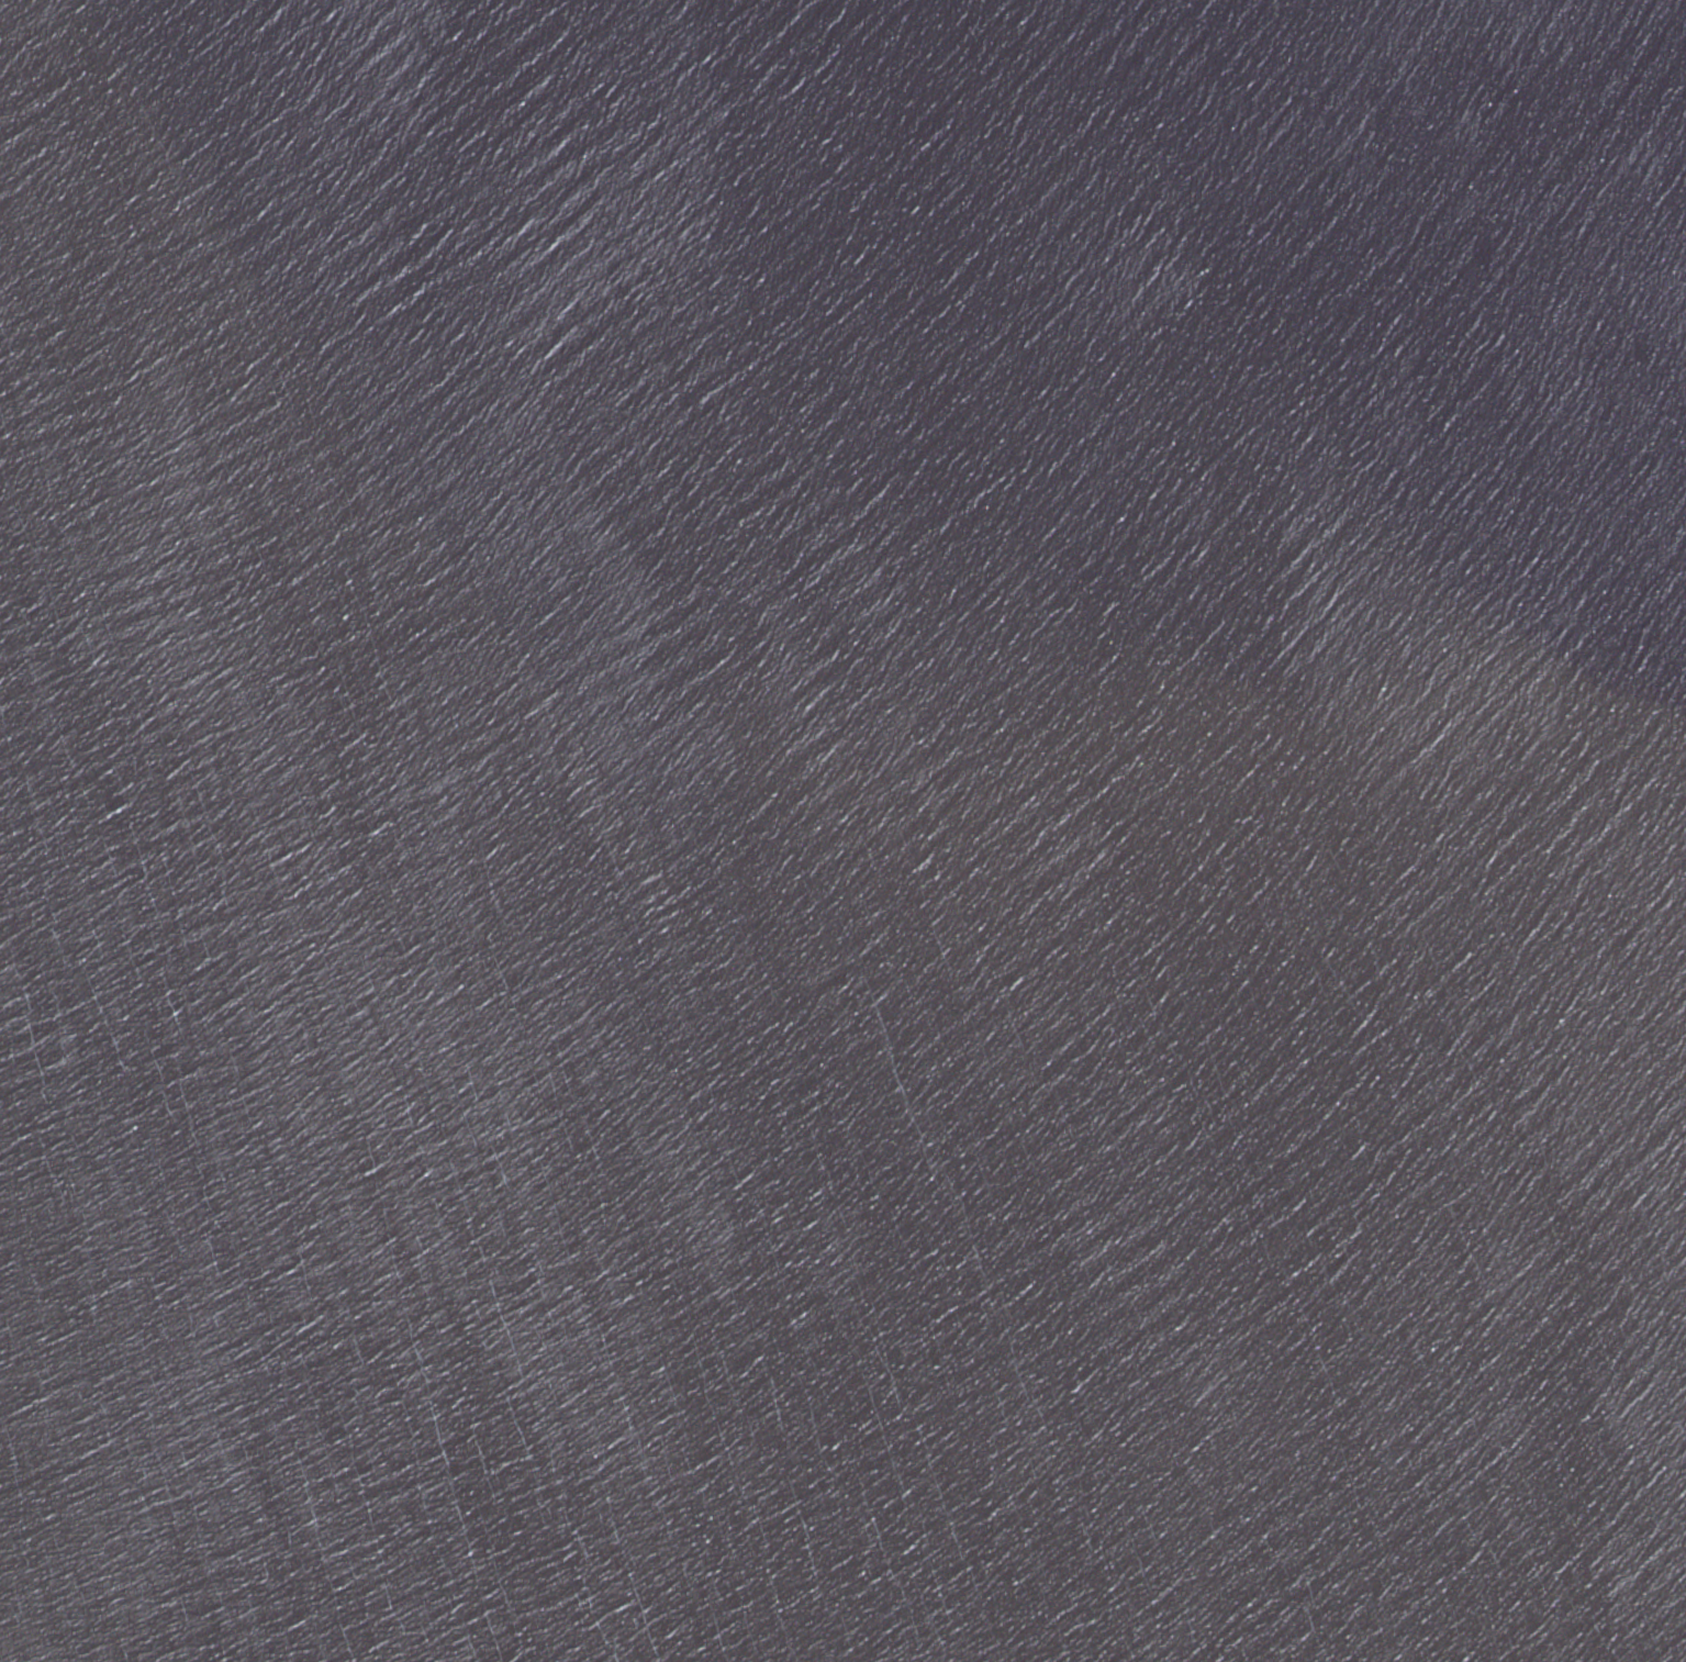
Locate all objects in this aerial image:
building: (1393, 1174)

